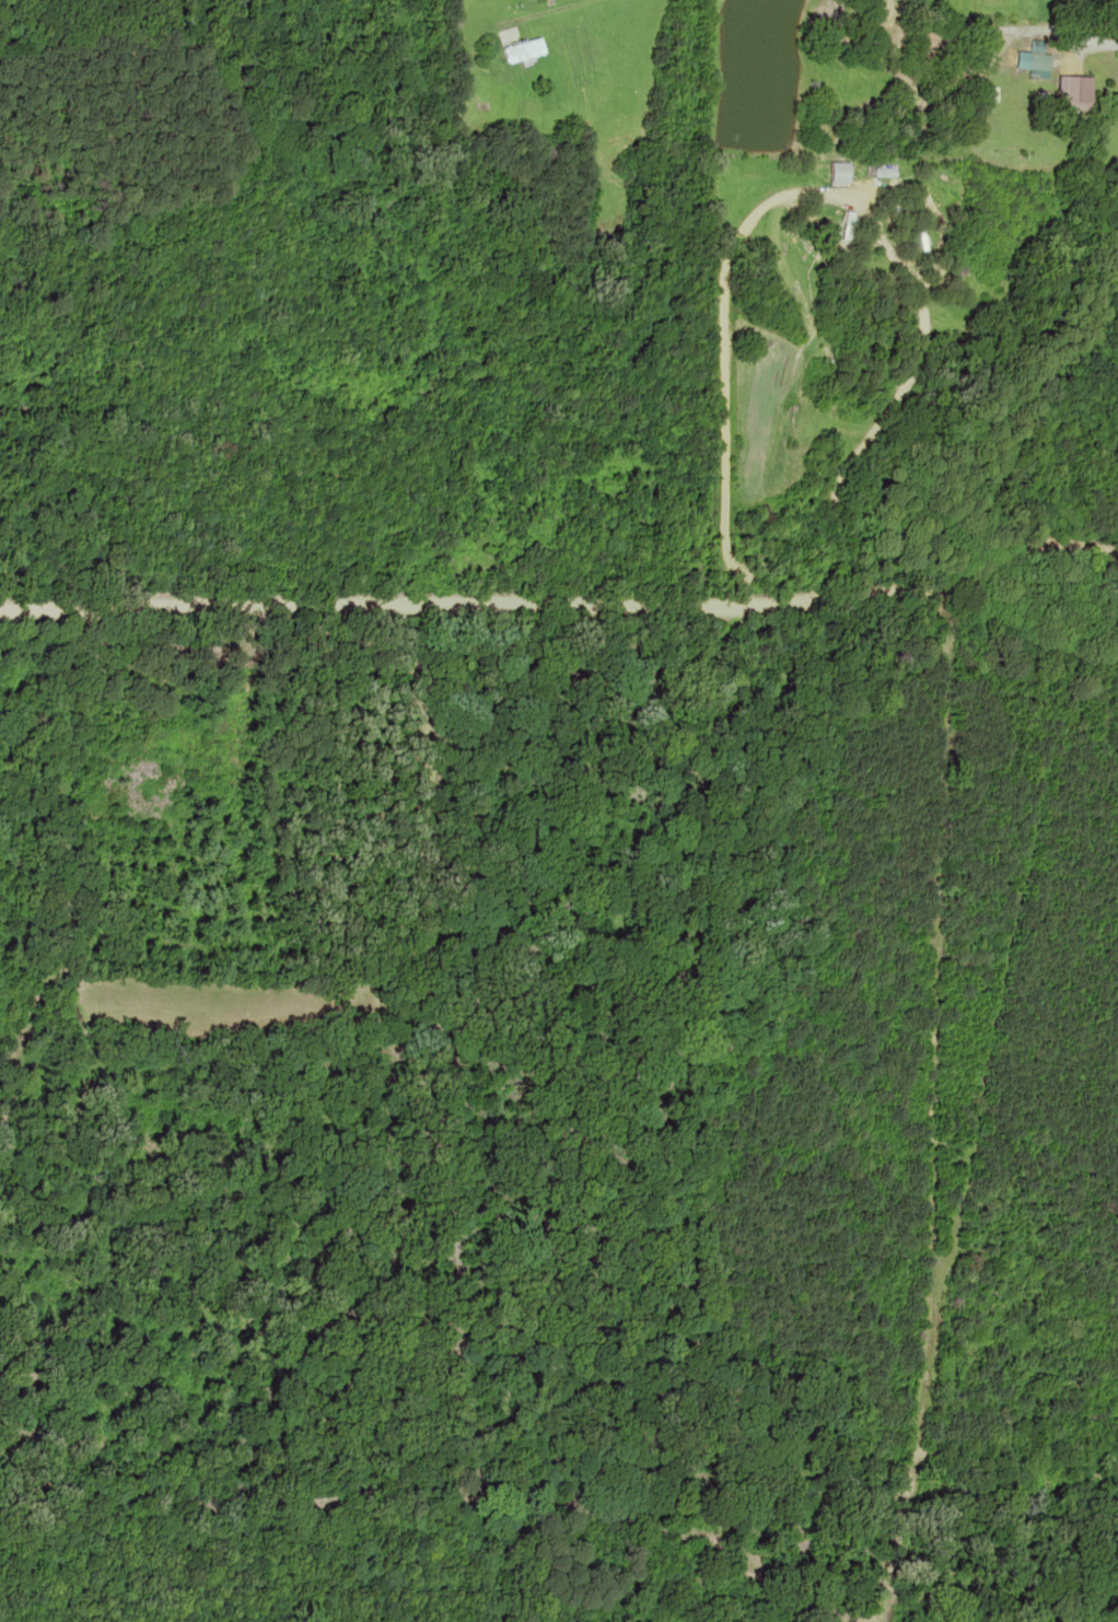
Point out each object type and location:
road: (548, 11)
building: (525, 51)
building: (886, 173)
building: (841, 174)
road: (729, 264)
road: (561, 600)
road: (927, 929)

